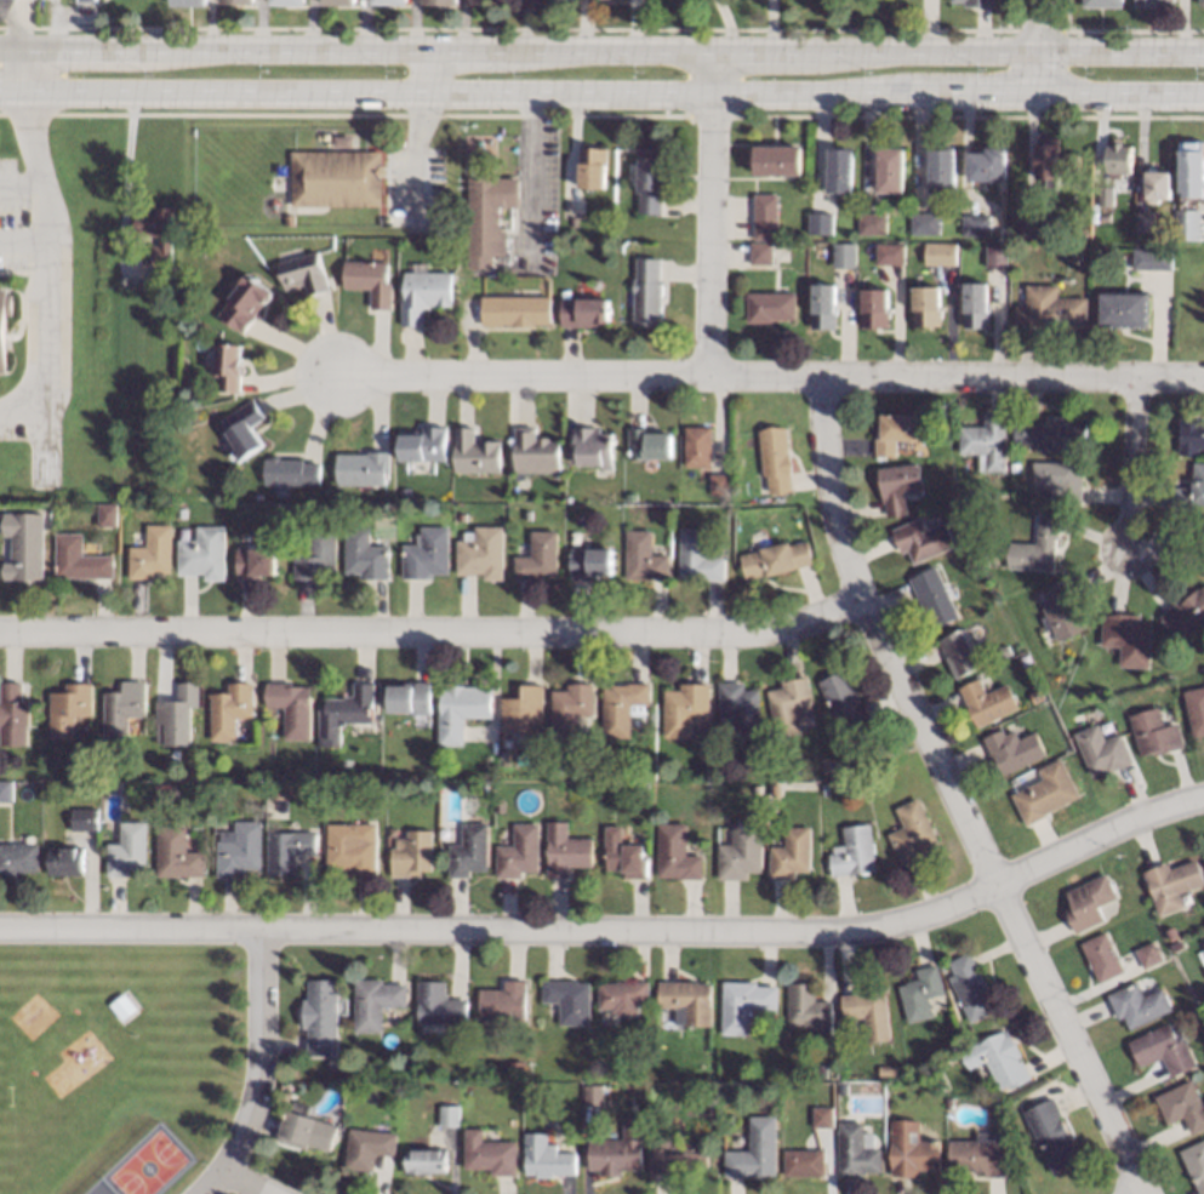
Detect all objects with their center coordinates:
building: (390, 0)
building: (85, 1)
building: (238, 1)
building: (287, 1)
building: (338, 1)
building: (441, 1)
building: (976, 1)
building: (187, 2)
building: (1102, 2)
building: (1145, 2)
building: (1200, 2)
road: (21, 23)
road: (1037, 50)
road: (601, 53)
road: (29, 72)
road: (422, 75)
road: (601, 98)
building: (326, 136)
building: (343, 139)
building: (1052, 159)
building: (1118, 159)
building: (777, 160)
building: (987, 165)
building: (1192, 166)
building: (592, 167)
building: (942, 168)
building: (840, 170)
building: (890, 170)
building: (336, 177)
road: (124, 178)
building: (649, 178)
road: (535, 179)
building: (1157, 185)
building: (1105, 194)
building: (487, 212)
building: (1032, 215)
road: (713, 216)
building: (765, 216)
building: (1103, 216)
building: (289, 219)
building: (572, 221)
building: (821, 222)
building: (873, 222)
building: (925, 222)
building: (1145, 222)
building: (1186, 223)
building: (975, 224)
building: (1168, 225)
building: (1018, 230)
building: (165, 239)
road: (24, 241)
building: (760, 252)
building: (890, 253)
building: (940, 253)
building: (995, 253)
building: (844, 255)
building: (1074, 255)
building: (1151, 258)
road: (50, 269)
building: (302, 273)
building: (162, 278)
building: (369, 280)
building: (423, 292)
building: (646, 292)
building: (244, 302)
building: (975, 304)
building: (769, 305)
building: (823, 305)
building: (874, 307)
building: (926, 307)
building: (515, 309)
building: (1050, 309)
building: (1123, 309)
building: (584, 312)
building: (4, 325)
building: (227, 365)
road: (958, 377)
road: (527, 379)
building: (242, 429)
building: (896, 430)
building: (1051, 433)
building: (1189, 434)
building: (986, 441)
building: (647, 444)
building: (423, 445)
building: (697, 445)
building: (593, 446)
building: (533, 451)
building: (474, 452)
building: (775, 458)
road: (1131, 459)
building: (361, 468)
building: (290, 469)
building: (1060, 479)
building: (718, 481)
building: (898, 485)
building: (1191, 490)
building: (404, 491)
building: (179, 512)
building: (525, 513)
building: (105, 514)
building: (461, 516)
building: (921, 538)
building: (24, 545)
building: (1035, 547)
building: (1203, 548)
building: (315, 552)
building: (480, 552)
building: (150, 553)
building: (202, 553)
building: (364, 554)
building: (426, 554)
building: (537, 555)
building: (696, 555)
building: (643, 556)
building: (78, 558)
building: (774, 559)
building: (253, 561)
building: (589, 562)
building: (1203, 565)
building: (934, 596)
building: (1061, 611)
building: (1186, 615)
road: (432, 635)
building: (1128, 638)
building: (1005, 650)
building: (959, 652)
building: (1038, 695)
building: (409, 697)
building: (844, 699)
building: (987, 702)
building: (788, 703)
building: (122, 707)
building: (290, 707)
building: (622, 707)
building: (738, 707)
building: (69, 708)
building: (570, 708)
building: (684, 708)
building: (460, 709)
building: (523, 709)
building: (1194, 709)
building: (228, 710)
building: (343, 713)
building: (13, 714)
building: (175, 714)
building: (1153, 731)
building: (1014, 748)
building: (1102, 750)
building: (504, 753)
building: (105, 756)
building: (629, 773)
building: (110, 784)
building: (643, 785)
building: (198, 787)
building: (360, 787)
building: (487, 787)
building: (755, 788)
building: (823, 788)
building: (215, 789)
building: (775, 789)
building: (6, 790)
building: (1045, 793)
road: (949, 795)
building: (498, 805)
building: (84, 819)
building: (911, 832)
building: (236, 847)
building: (126, 849)
building: (350, 849)
building: (565, 849)
building: (285, 850)
building: (468, 850)
building: (518, 851)
building: (674, 852)
building: (740, 852)
building: (789, 852)
building: (852, 852)
building: (173, 853)
building: (411, 853)
building: (623, 853)
building: (18, 857)
building: (64, 859)
building: (1171, 884)
building: (1089, 901)
road: (614, 930)
building: (1171, 931)
building: (1203, 942)
building: (1177, 944)
building: (1148, 954)
building: (1102, 955)
building: (1203, 969)
building: (970, 987)
building: (920, 992)
building: (621, 993)
building: (567, 999)
building: (375, 1001)
building: (503, 1001)
building: (686, 1001)
building: (438, 1004)
building: (742, 1004)
building: (1137, 1004)
building: (122, 1005)
building: (808, 1009)
building: (868, 1011)
building: (320, 1015)
building: (1162, 1049)
building: (997, 1057)
building: (401, 1062)
park: (115, 1063)
building: (517, 1067)
building: (820, 1068)
building: (886, 1069)
road: (259, 1072)
building: (841, 1089)
building: (594, 1093)
park: (7, 1096)
building: (948, 1103)
building: (1182, 1104)
building: (449, 1115)
building: (823, 1116)
building: (729, 1119)
building: (304, 1127)
building: (1050, 1136)
building: (369, 1147)
building: (617, 1149)
building: (856, 1149)
building: (912, 1149)
building: (753, 1150)
building: (674, 1152)
building: (489, 1153)
building: (978, 1154)
building: (544, 1156)
building: (423, 1159)
building: (803, 1161)
building: (1194, 1161)
park: (147, 1162)
road: (250, 1179)

